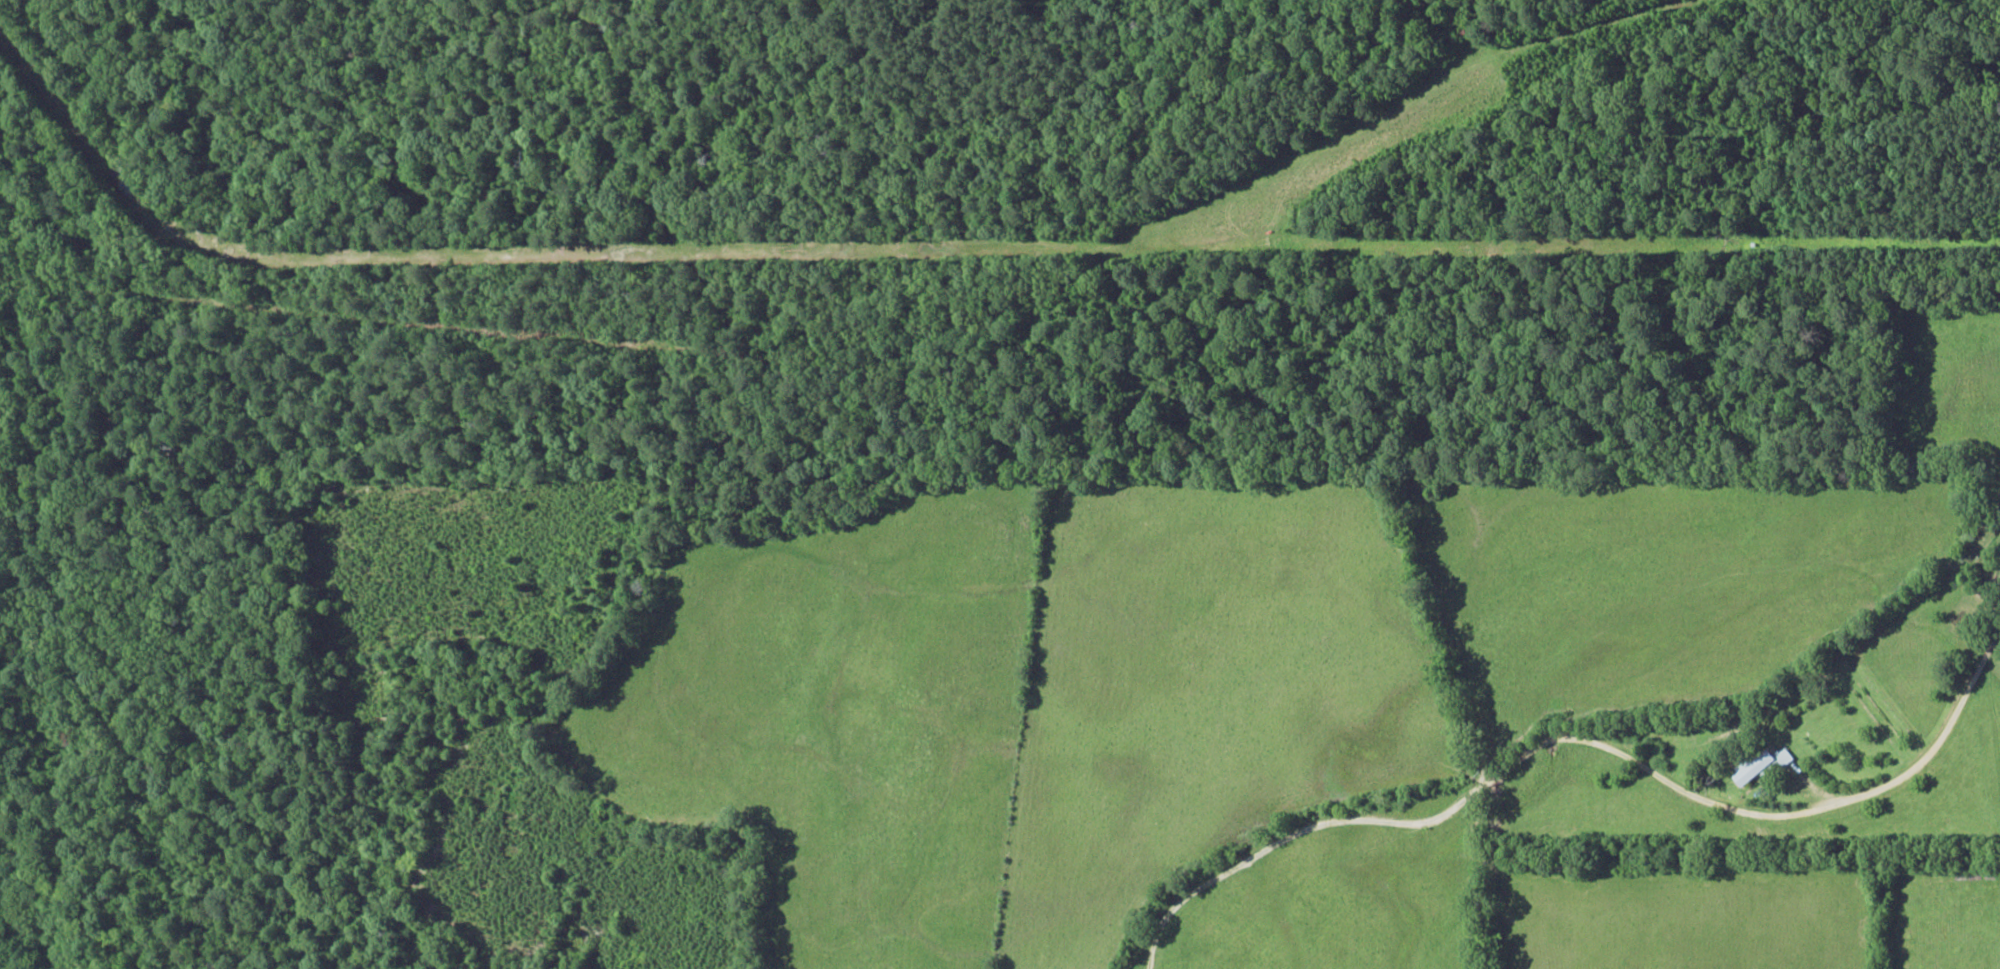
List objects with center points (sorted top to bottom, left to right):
building: (1756, 765)
road: (1590, 774)

